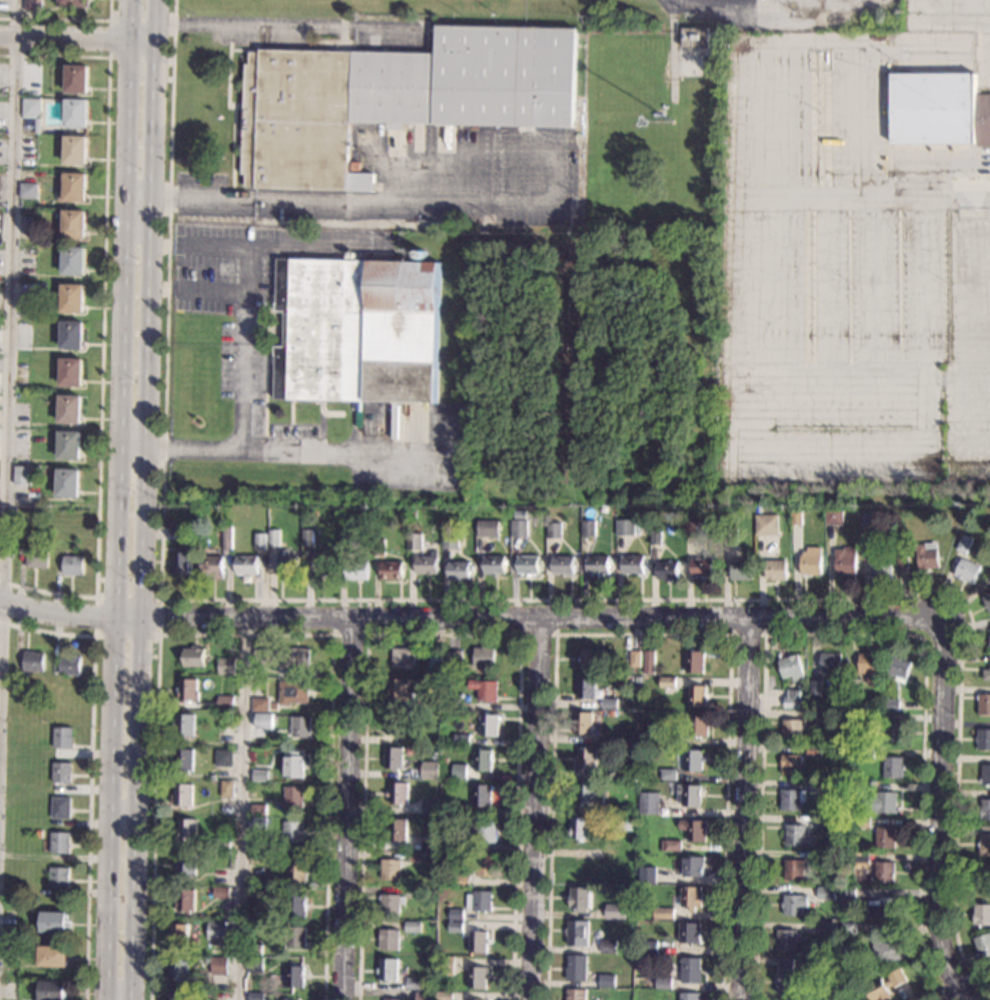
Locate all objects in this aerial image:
building: (75, 3)
building: (32, 5)
road: (971, 9)
road: (949, 19)
road: (65, 21)
parking lot: (956, 25)
road: (291, 27)
building: (694, 37)
road: (77, 39)
road: (802, 43)
road: (121, 59)
building: (76, 79)
building: (397, 97)
building: (30, 107)
building: (674, 109)
building: (939, 109)
building: (76, 112)
road: (859, 124)
building: (37, 125)
building: (673, 127)
building: (74, 149)
building: (72, 188)
building: (27, 190)
road: (138, 199)
road: (464, 206)
building: (73, 223)
building: (795, 228)
building: (73, 260)
parking lot: (829, 264)
road: (820, 288)
road: (873, 288)
parking lot: (958, 290)
road: (199, 291)
building: (71, 298)
road: (247, 300)
road: (101, 321)
building: (358, 331)
building: (70, 334)
road: (8, 335)
road: (972, 347)
building: (25, 358)
road: (959, 370)
building: (69, 372)
road: (927, 380)
building: (68, 409)
road: (978, 410)
road: (133, 444)
building: (69, 445)
road: (297, 451)
road: (838, 470)
building: (21, 475)
building: (67, 483)
road: (117, 500)
road: (145, 500)
building: (202, 509)
building: (315, 513)
building: (520, 514)
building: (688, 516)
building: (796, 516)
building: (834, 516)
building: (866, 516)
building: (168, 524)
building: (767, 525)
building: (625, 527)
building: (487, 528)
building: (519, 528)
building: (588, 528)
building: (696, 529)
building: (554, 530)
building: (730, 534)
building: (655, 535)
building: (273, 537)
building: (307, 537)
building: (226, 538)
building: (346, 538)
building: (449, 541)
building: (259, 542)
building: (414, 542)
building: (964, 544)
building: (378, 547)
building: (361, 553)
building: (927, 555)
building: (36, 558)
building: (845, 560)
building: (810, 561)
building: (181, 563)
building: (633, 563)
building: (902, 563)
building: (285, 564)
building: (321, 564)
building: (426, 564)
building: (528, 564)
building: (598, 564)
building: (73, 565)
building: (246, 565)
building: (494, 565)
building: (563, 565)
building: (212, 566)
building: (879, 566)
building: (703, 567)
building: (356, 570)
building: (391, 570)
building: (458, 570)
building: (667, 570)
building: (741, 570)
building: (776, 570)
building: (967, 570)
road: (466, 599)
building: (987, 602)
road: (468, 620)
road: (94, 633)
road: (555, 633)
road: (730, 633)
road: (848, 633)
road: (244, 634)
road: (366, 634)
road: (443, 634)
road: (642, 634)
building: (989, 642)
road: (943, 648)
building: (194, 657)
building: (283, 657)
building: (402, 657)
building: (484, 657)
building: (453, 658)
building: (589, 659)
building: (635, 659)
building: (33, 661)
building: (649, 662)
building: (694, 662)
building: (830, 662)
building: (435, 663)
building: (69, 665)
building: (226, 666)
building: (791, 667)
building: (870, 667)
building: (899, 668)
building: (986, 675)
building: (637, 681)
building: (667, 682)
building: (801, 686)
building: (853, 686)
building: (586, 687)
building: (815, 688)
building: (188, 690)
building: (484, 690)
building: (399, 691)
building: (293, 692)
building: (697, 696)
building: (793, 699)
building: (225, 702)
building: (609, 703)
building: (260, 704)
building: (424, 704)
building: (451, 704)
building: (891, 704)
building: (984, 704)
building: (272, 705)
building: (216, 715)
building: (867, 717)
building: (264, 721)
building: (583, 722)
building: (393, 723)
building: (184, 724)
building: (697, 724)
building: (489, 725)
building: (301, 727)
building: (793, 729)
building: (894, 732)
building: (63, 737)
building: (672, 738)
building: (461, 739)
building: (983, 739)
building: (609, 742)
building: (815, 751)
building: (866, 751)
building: (223, 757)
building: (393, 757)
building: (586, 757)
building: (183, 760)
building: (482, 760)
building: (693, 760)
building: (444, 761)
building: (293, 764)
building: (790, 764)
building: (893, 766)
road: (90, 770)
building: (459, 771)
building: (62, 772)
building: (432, 772)
building: (420, 773)
building: (668, 774)
building: (986, 774)
building: (260, 775)
building: (610, 775)
building: (220, 776)
building: (863, 786)
building: (227, 789)
building: (397, 793)
building: (587, 793)
building: (690, 794)
building: (183, 795)
building: (481, 795)
building: (799, 795)
building: (293, 796)
building: (880, 802)
building: (649, 803)
building: (430, 805)
building: (61, 807)
building: (421, 808)
building: (258, 809)
building: (457, 809)
building: (608, 809)
road: (745, 809)
building: (985, 809)
road: (240, 810)
road: (346, 810)
road: (536, 810)
road: (939, 813)
building: (820, 821)
building: (863, 822)
building: (257, 823)
building: (627, 824)
building: (579, 828)
building: (397, 829)
building: (694, 829)
building: (187, 830)
building: (482, 830)
building: (292, 832)
building: (38, 833)
building: (798, 836)
building: (886, 837)
building: (629, 841)
building: (60, 842)
building: (429, 843)
building: (222, 844)
building: (460, 844)
building: (671, 845)
building: (985, 845)
building: (589, 853)
building: (819, 855)
building: (416, 856)
building: (861, 856)
building: (258, 857)
building: (186, 865)
building: (484, 866)
building: (693, 866)
building: (390, 869)
building: (795, 869)
building: (885, 871)
building: (296, 872)
building: (648, 874)
building: (59, 877)
building: (221, 879)
building: (981, 879)
building: (462, 880)
building: (413, 891)
building: (220, 892)
building: (256, 892)
building: (826, 892)
building: (848, 894)
building: (691, 897)
building: (580, 898)
building: (184, 900)
building: (480, 900)
building: (390, 903)
building: (794, 904)
building: (296, 906)
building: (884, 907)
building: (615, 911)
building: (456, 913)
building: (664, 913)
building: (982, 914)
building: (54, 922)
building: (412, 926)
building: (456, 926)
building: (848, 927)
building: (828, 929)
building: (216, 930)
building: (690, 932)
building: (577, 933)
building: (10, 934)
building: (179, 934)
building: (295, 937)
building: (388, 939)
building: (788, 939)
building: (478, 941)
building: (983, 944)
building: (608, 946)
building: (650, 946)
building: (253, 948)
building: (888, 951)
building: (843, 953)
building: (53, 956)
building: (254, 964)
building: (214, 965)
building: (445, 965)
building: (577, 967)
building: (812, 967)
building: (388, 969)
building: (177, 970)
building: (692, 970)
road: (966, 975)
building: (294, 976)
building: (478, 976)
building: (786, 977)
building: (607, 980)
building: (414, 982)
building: (664, 982)
building: (885, 985)
building: (52, 990)
road: (971, 990)
building: (9, 991)
building: (577, 994)
building: (424, 995)
building: (444, 995)
building: (176, 996)
building: (258, 996)
building: (691, 996)
building: (288, 999)
building: (390, 999)
building: (469, 999)
building: (785, 999)
building: (853, 999)

